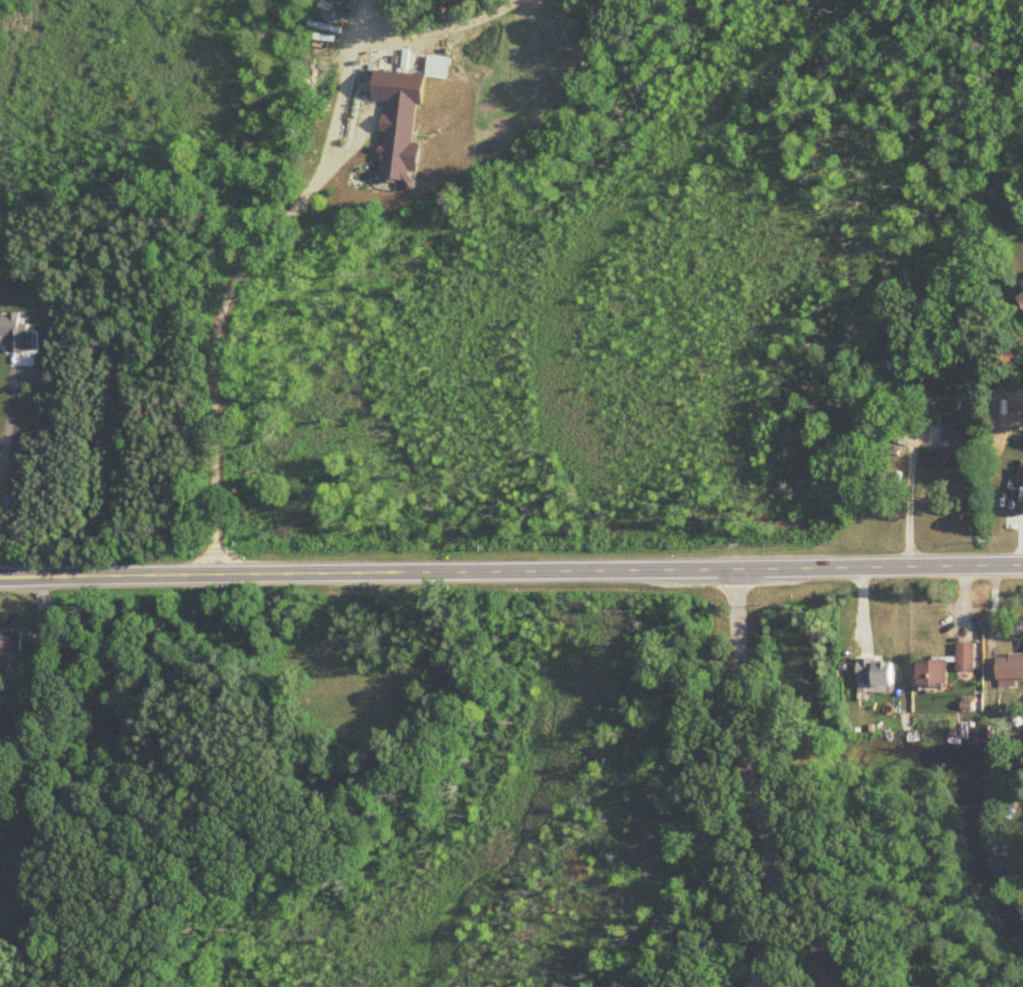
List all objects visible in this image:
building: (369, 66)
building: (398, 128)
road: (244, 273)
building: (1022, 284)
building: (1021, 299)
road: (9, 414)
building: (953, 429)
building: (949, 457)
building: (1021, 473)
road: (910, 496)
road: (511, 573)
building: (11, 642)
building: (966, 656)
building: (1010, 666)
building: (932, 673)
building: (876, 675)
road: (755, 780)

